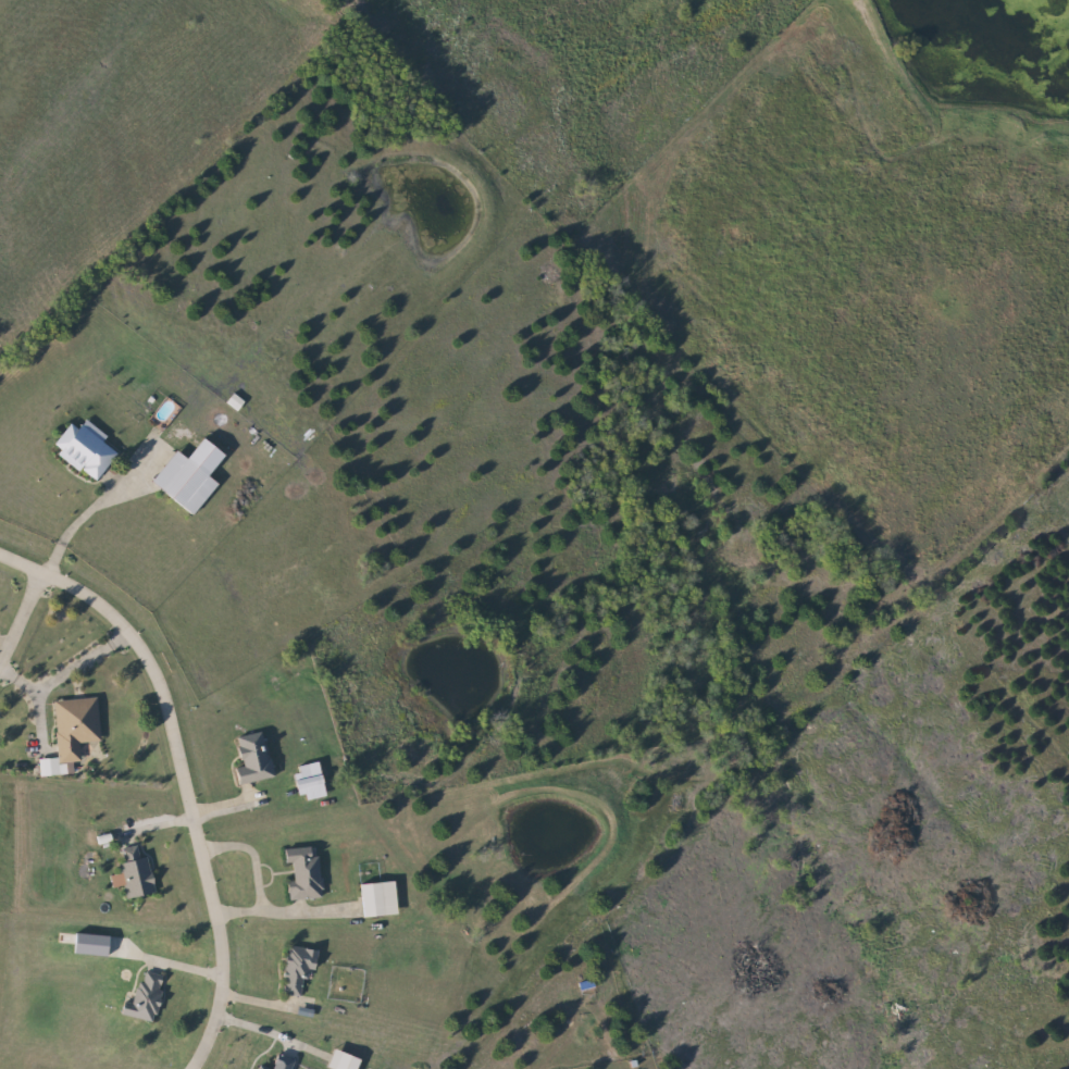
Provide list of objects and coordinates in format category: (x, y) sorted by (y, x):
building: (87, 451)
building: (194, 476)
road: (88, 514)
road: (26, 618)
road: (82, 662)
road: (36, 708)
building: (76, 725)
building: (256, 757)
road: (179, 773)
building: (312, 781)
road: (251, 854)
building: (136, 873)
building: (306, 874)
building: (382, 898)
road: (281, 912)
building: (297, 971)
building: (147, 996)
road: (263, 1036)
building: (345, 1060)
building: (283, 1064)
building: (258, 1067)

